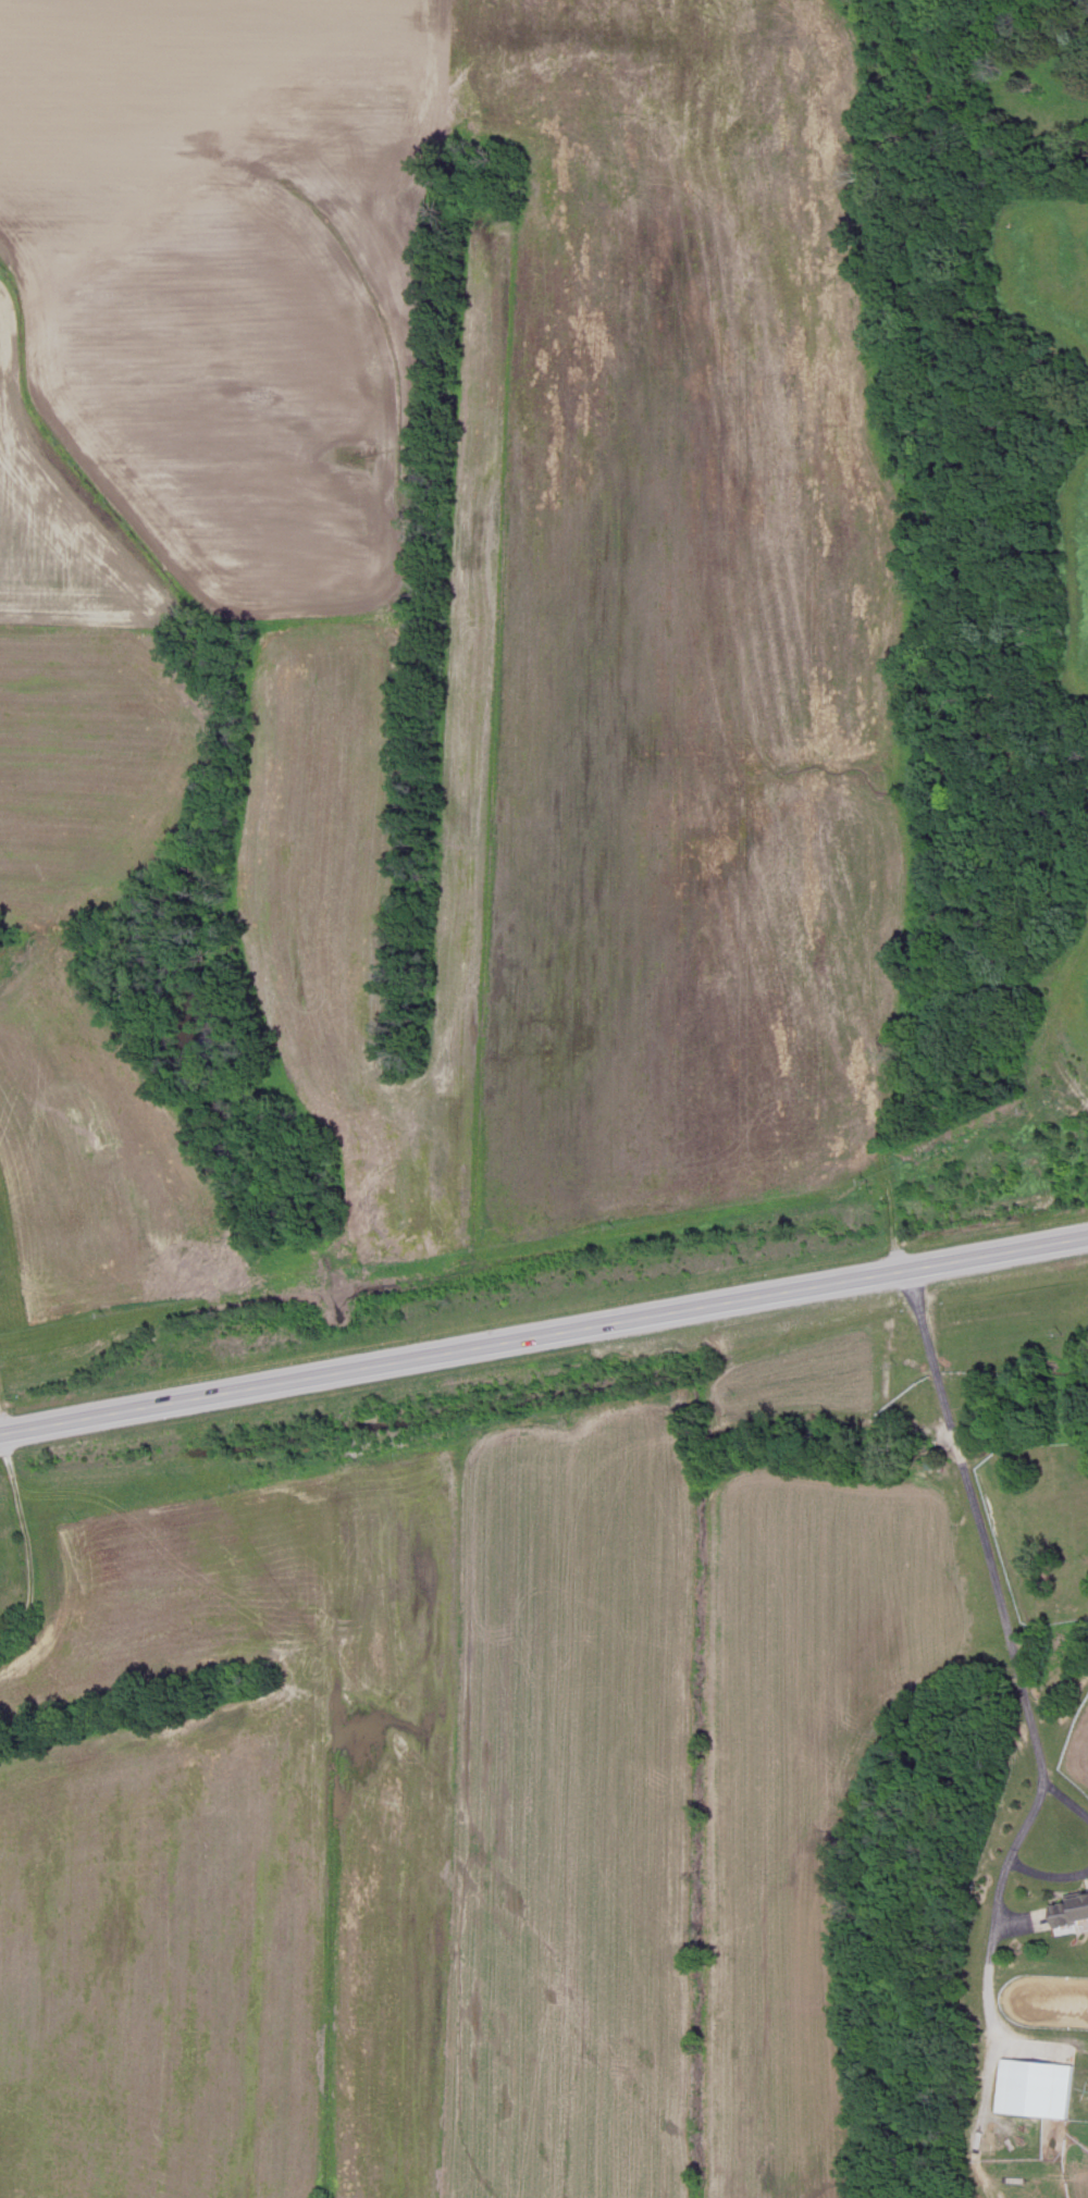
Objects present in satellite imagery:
road: (543, 1335)
road: (988, 1568)
road: (1067, 1801)
road: (1049, 1872)
building: (1071, 1912)
road: (988, 1975)
building: (1035, 2089)

